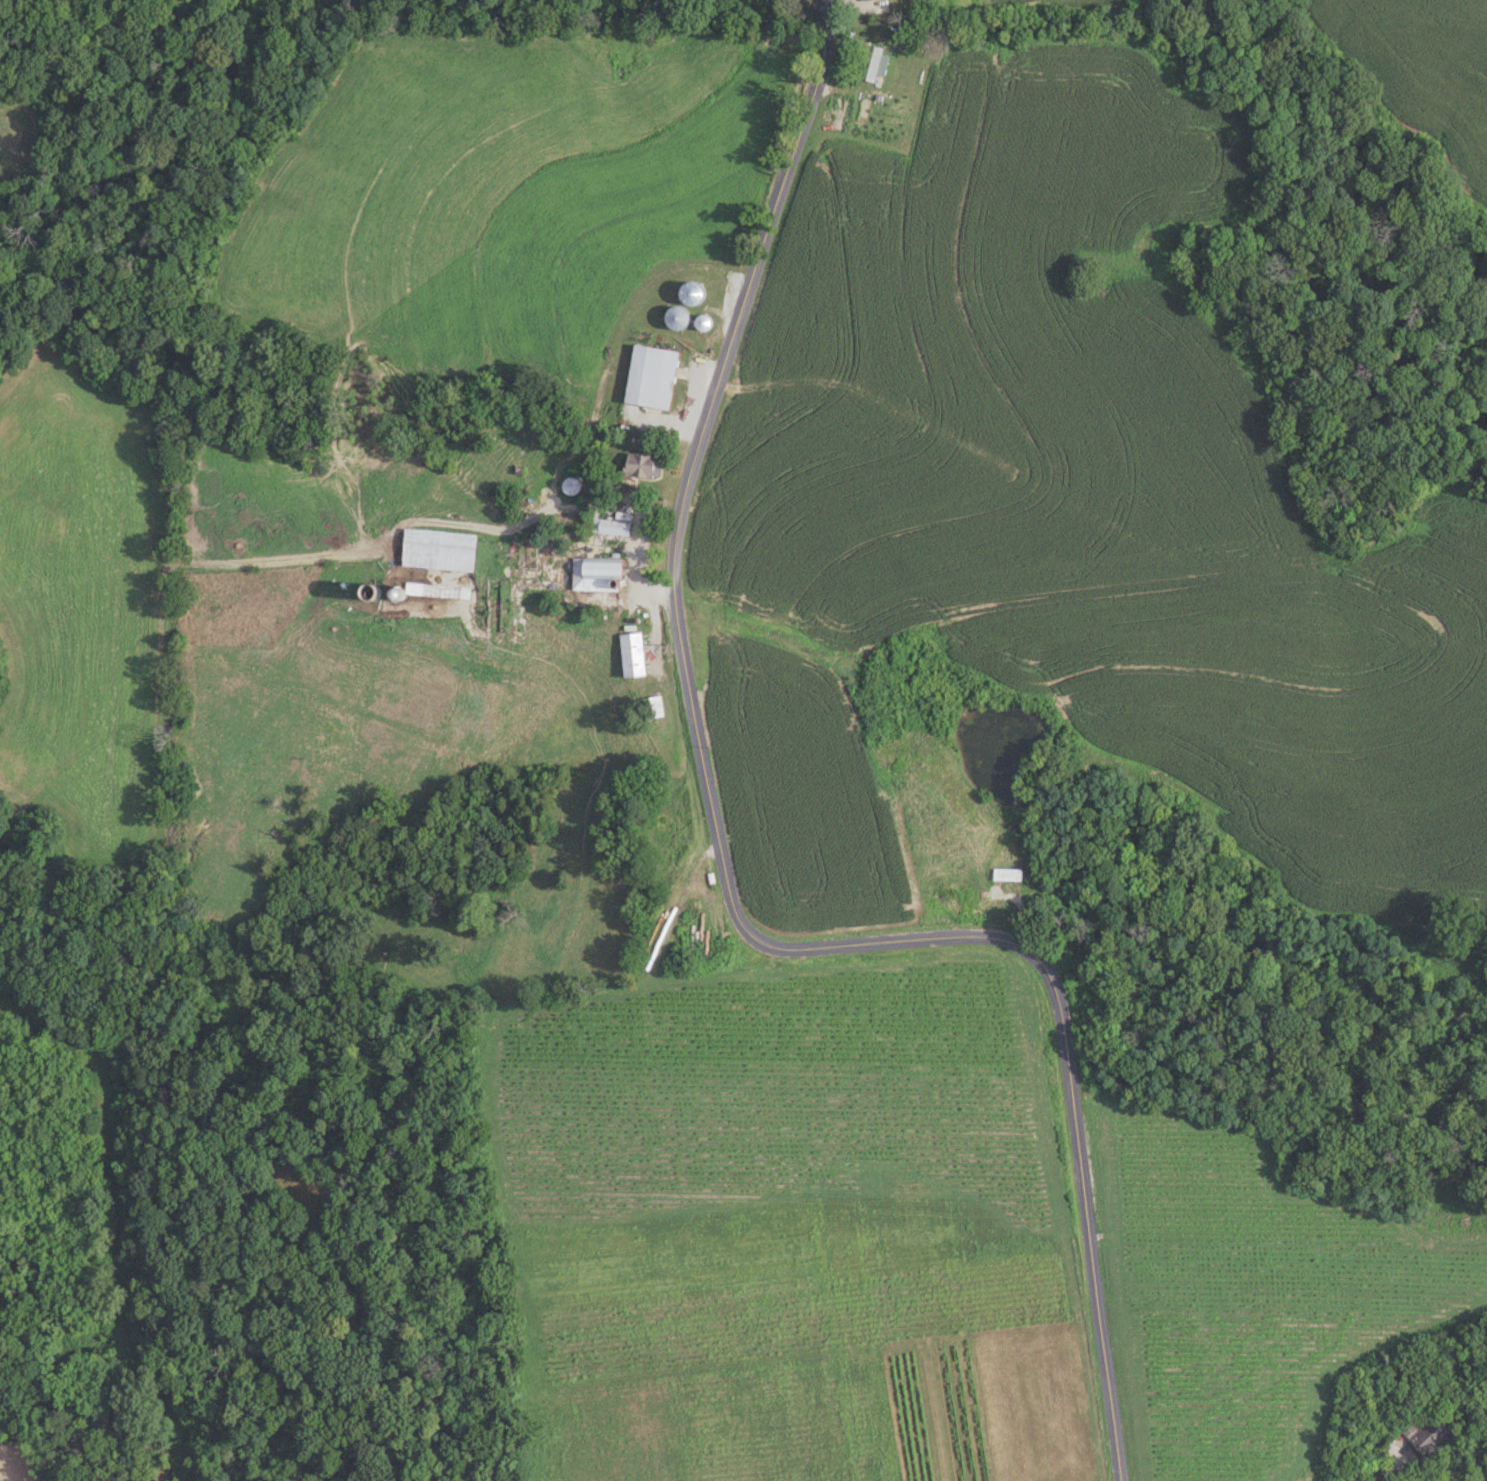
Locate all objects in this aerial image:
building: (863, 0)
building: (874, 62)
building: (681, 317)
building: (705, 323)
building: (653, 378)
building: (644, 467)
building: (573, 487)
road: (586, 503)
building: (608, 528)
building: (440, 550)
building: (529, 554)
building: (600, 575)
building: (438, 591)
building: (635, 656)
building: (651, 708)
building: (1009, 873)
road: (722, 875)
building: (1430, 1435)

